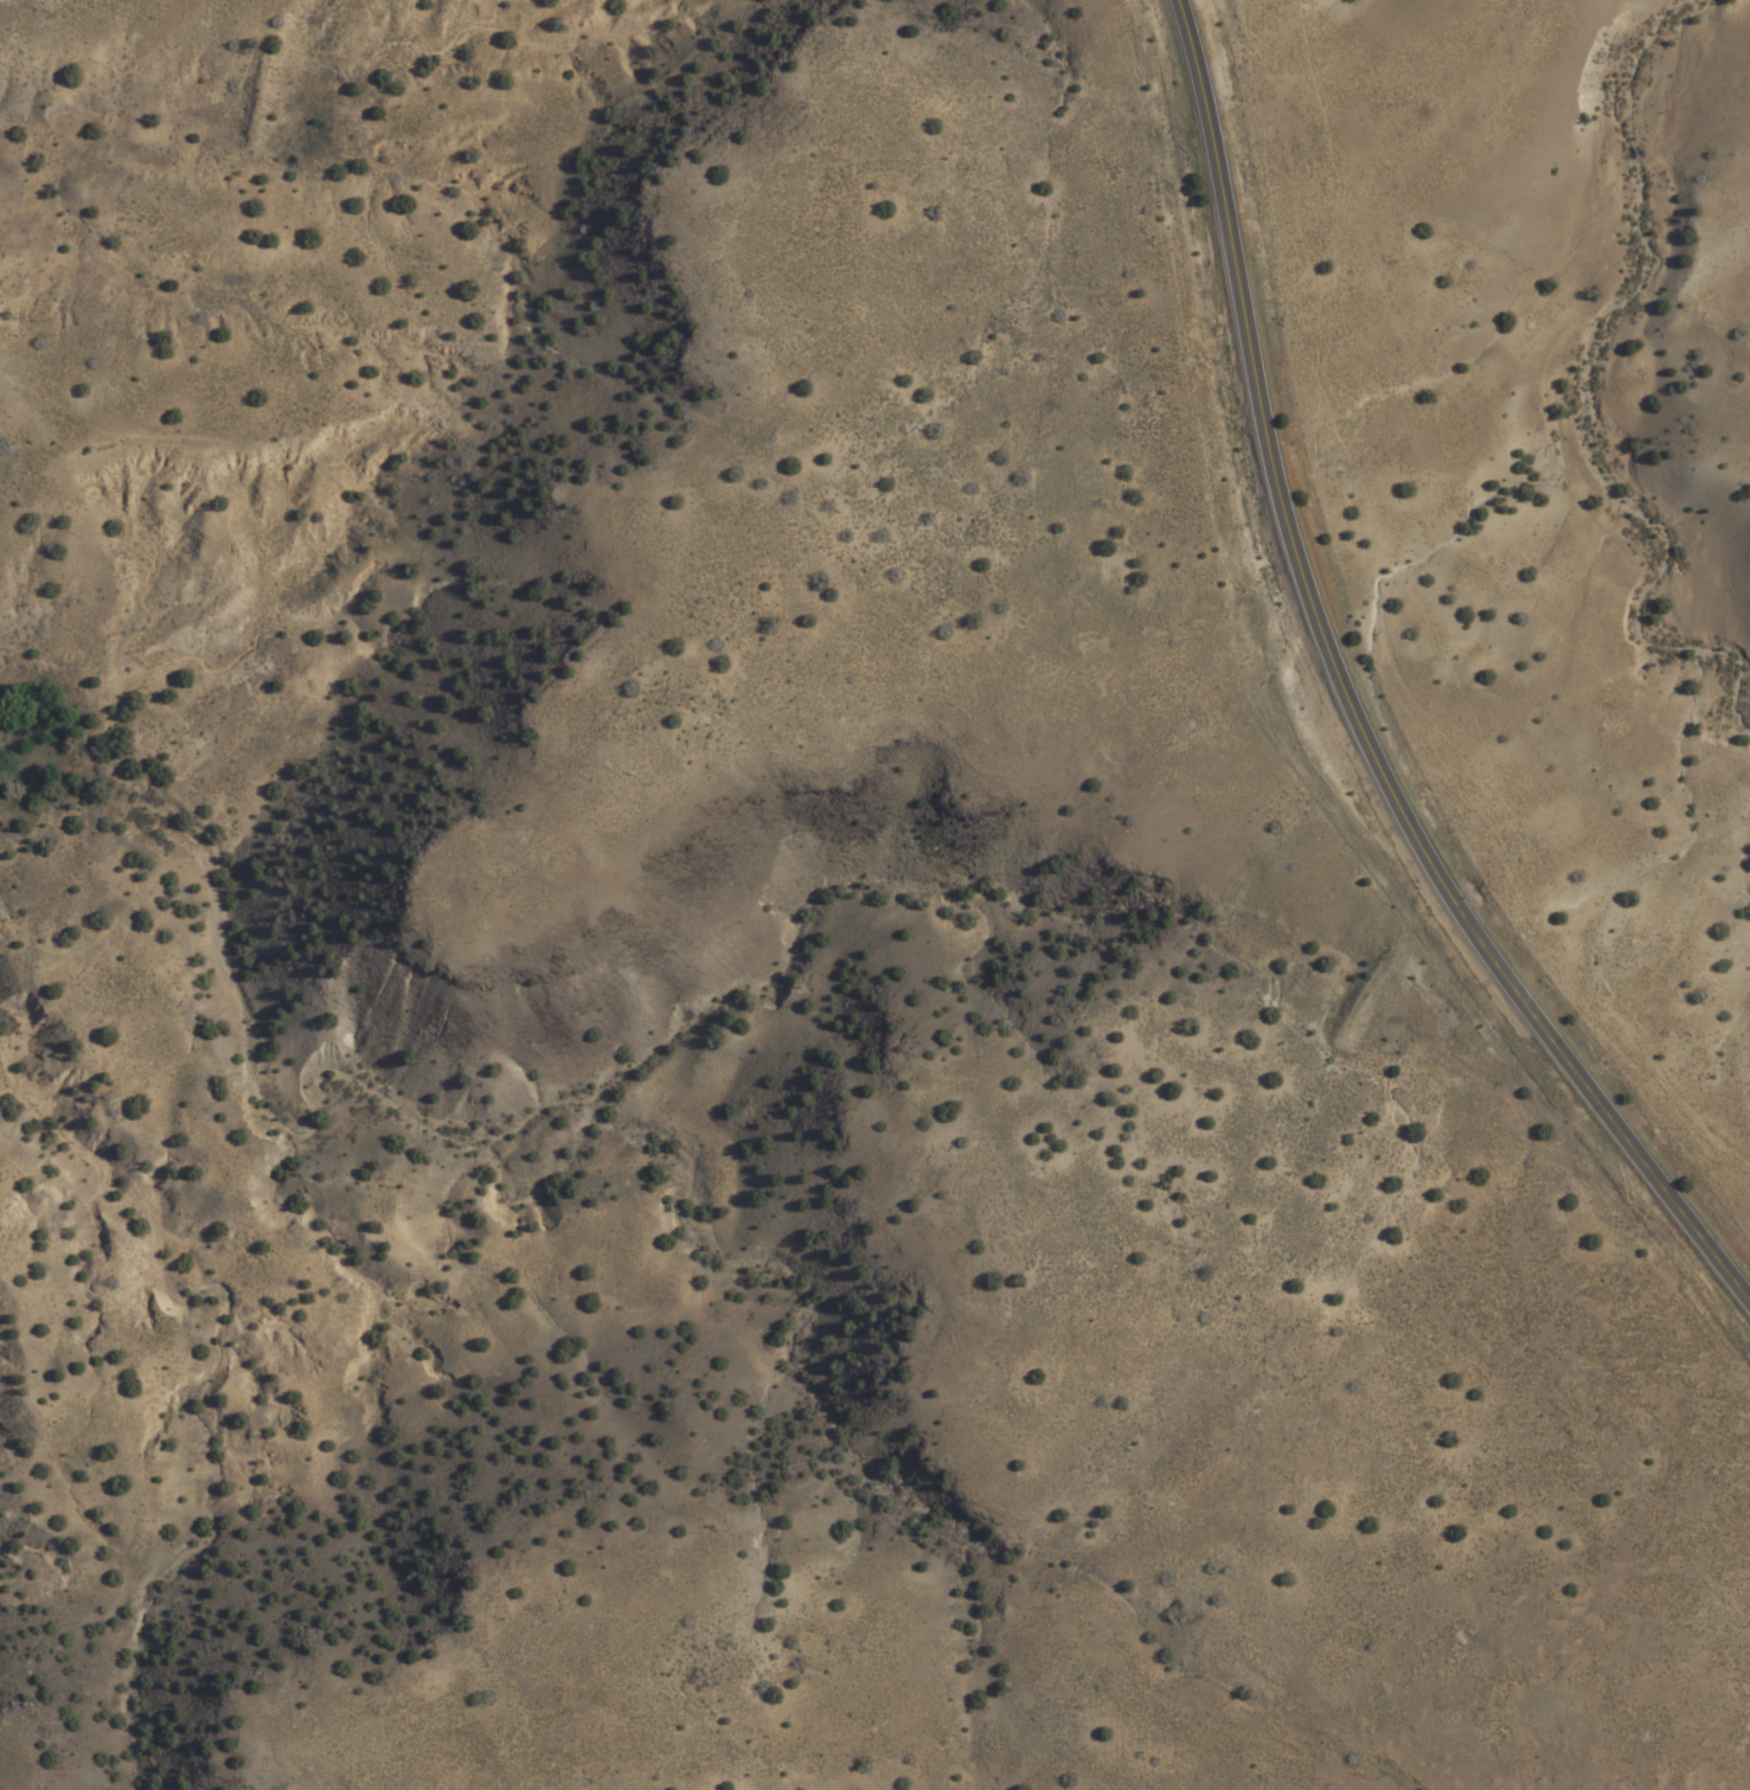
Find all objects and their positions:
road: (1347, 705)

